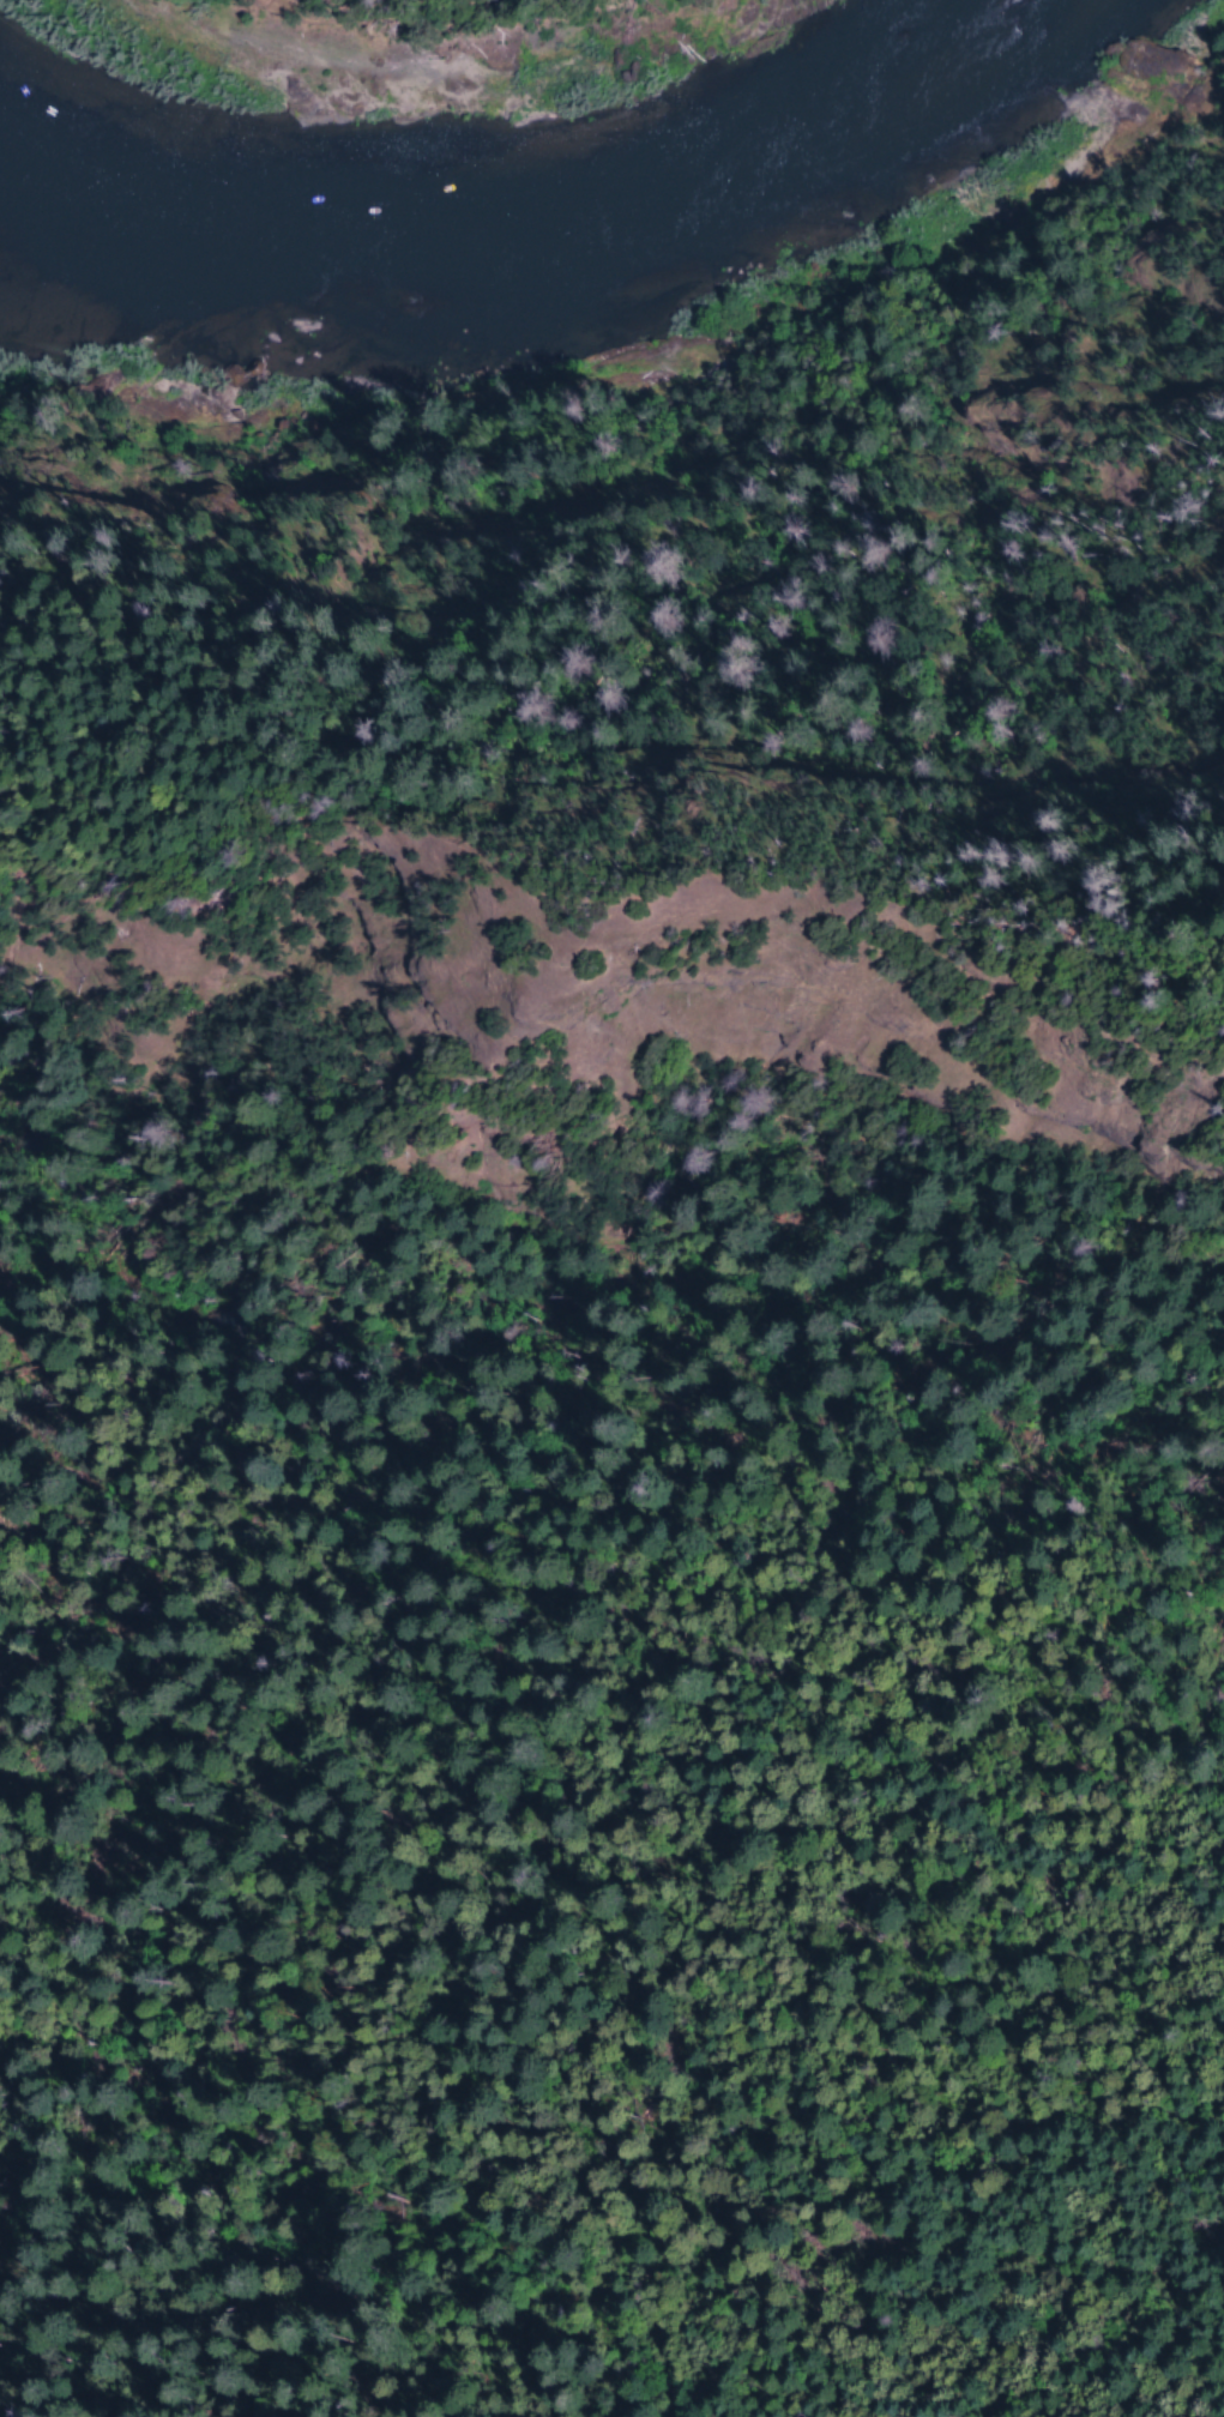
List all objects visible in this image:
river: (566, 229)

